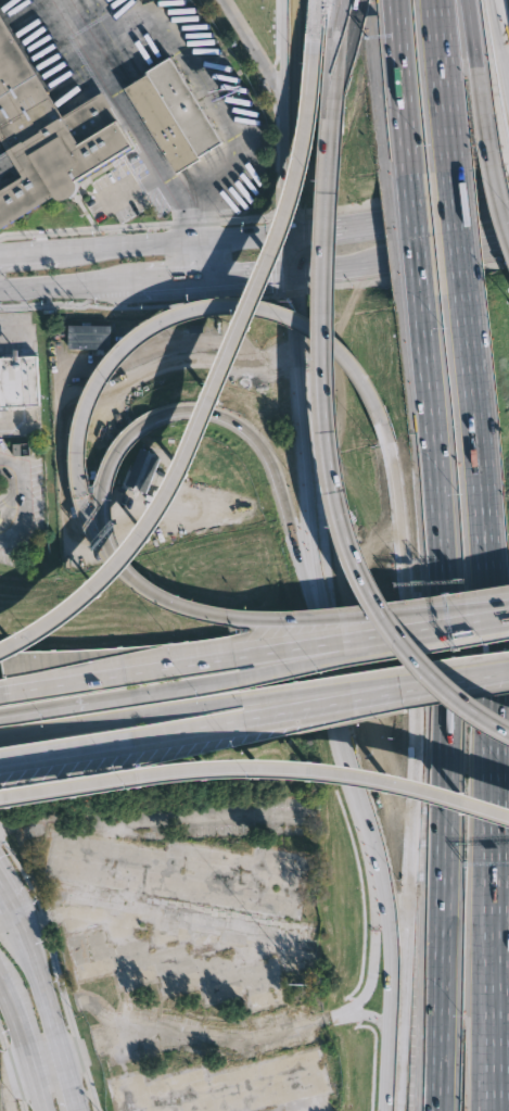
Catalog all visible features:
road: (98, 13)
road: (317, 26)
road: (502, 34)
road: (260, 55)
road: (294, 55)
road: (480, 75)
road: (448, 85)
road: (107, 87)
road: (403, 90)
road: (333, 96)
road: (218, 108)
building: (171, 115)
building: (47, 135)
road: (293, 172)
road: (133, 186)
road: (494, 193)
road: (406, 195)
road: (494, 205)
traffic signals: (293, 206)
road: (298, 212)
road: (432, 215)
road: (189, 217)
road: (136, 225)
road: (345, 226)
road: (463, 226)
road: (155, 227)
traffic signals: (314, 230)
road: (298, 232)
road: (413, 236)
road: (145, 243)
road: (293, 251)
road: (429, 254)
road: (200, 258)
road: (42, 264)
road: (321, 266)
road: (283, 270)
traffic signals: (264, 273)
road: (247, 274)
road: (408, 277)
road: (167, 278)
road: (271, 283)
road: (55, 285)
road: (289, 293)
road: (60, 303)
road: (136, 307)
road: (170, 317)
road: (14, 333)
building: (89, 337)
road: (231, 353)
building: (18, 380)
road: (432, 432)
road: (306, 445)
road: (268, 457)
building: (140, 471)
road: (103, 491)
road: (23, 495)
road: (332, 496)
road: (488, 531)
road: (403, 606)
road: (291, 615)
road: (461, 618)
road: (34, 635)
road: (206, 660)
road: (272, 670)
road: (443, 680)
road: (366, 687)
road: (226, 702)
road: (64, 705)
road: (338, 712)
road: (254, 715)
road: (65, 727)
road: (191, 768)
road: (446, 797)
road: (371, 833)
road: (493, 858)
road: (2, 898)
road: (441, 898)
road: (404, 904)
road: (500, 908)
road: (13, 922)
road: (11, 930)
road: (373, 940)
road: (392, 950)
road: (59, 971)
road: (493, 980)
road: (56, 983)
road: (38, 985)
road: (373, 1017)
road: (237, 1040)
road: (23, 1046)
road: (435, 1062)
road: (485, 1068)
road: (494, 1068)
road: (13, 1070)
road: (62, 1071)
road: (391, 1072)
road: (10, 1078)
road: (504, 1094)

